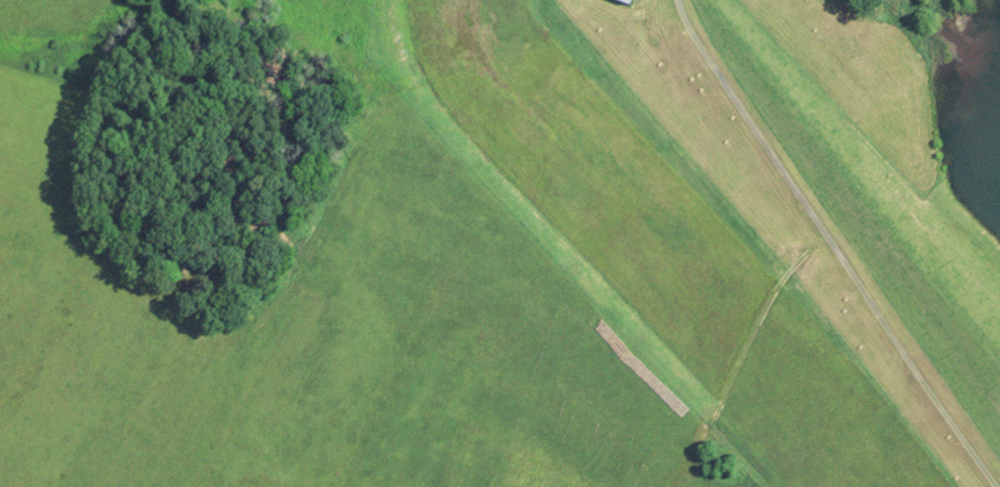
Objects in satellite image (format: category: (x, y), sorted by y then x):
building: (623, 2)
dam: (859, 182)
road: (832, 246)

